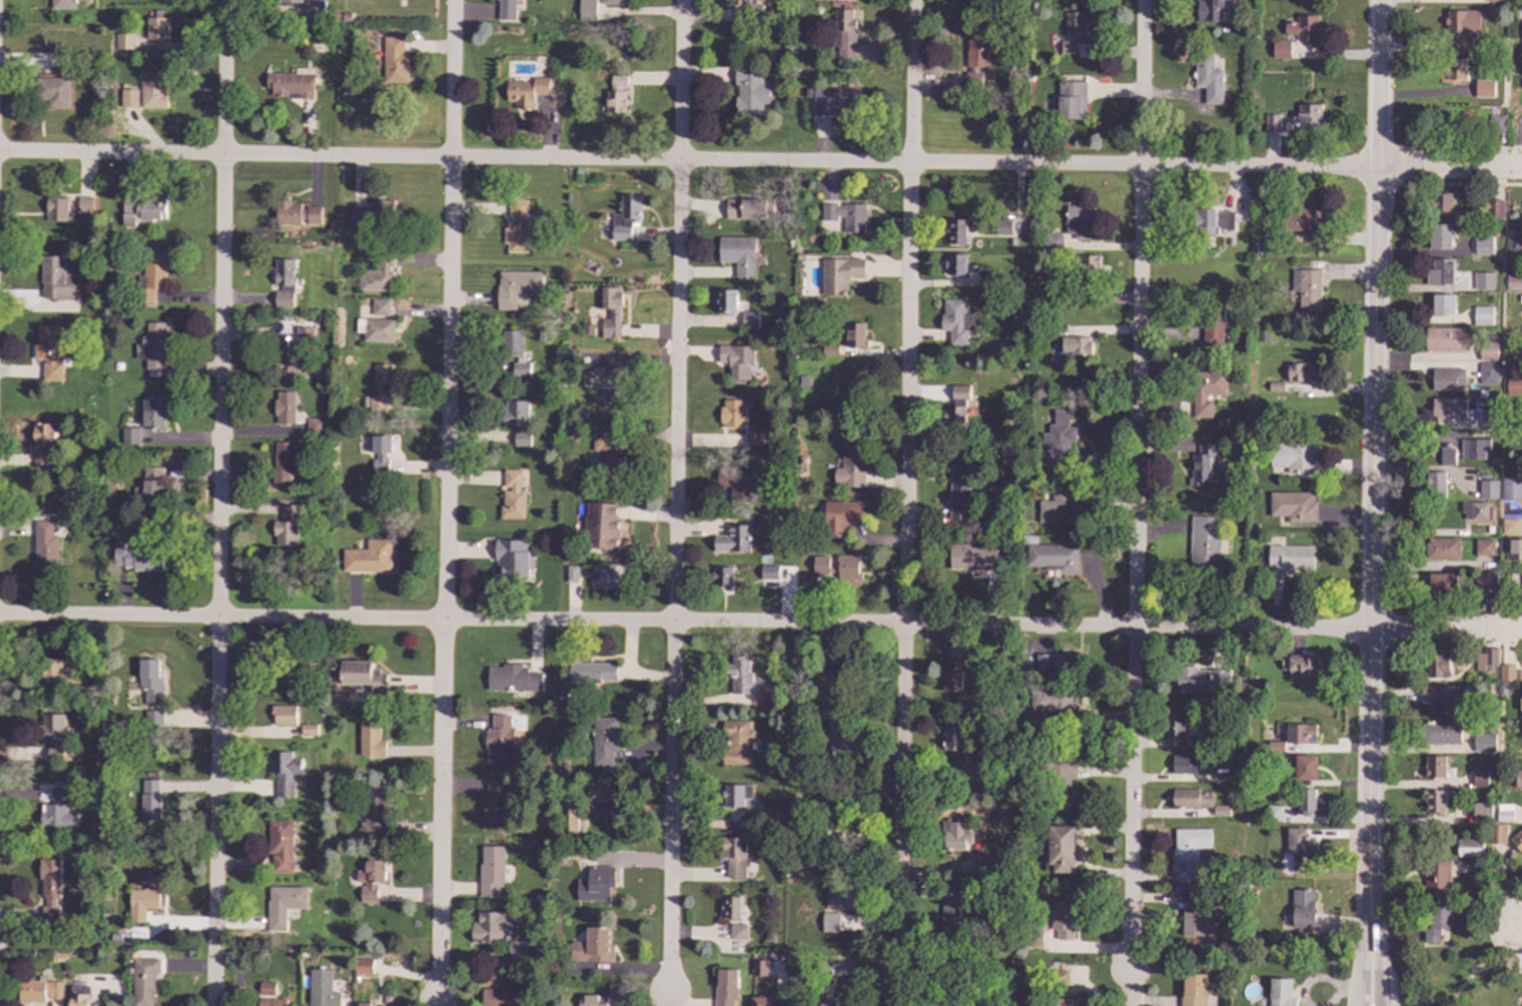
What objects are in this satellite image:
building: (1495, 0)
building: (289, 2)
building: (612, 3)
building: (63, 5)
building: (313, 8)
building: (586, 10)
building: (506, 11)
building: (1075, 26)
building: (1462, 27)
building: (1303, 28)
building: (844, 33)
building: (146, 37)
building: (1068, 47)
building: (1280, 49)
building: (976, 52)
building: (1489, 53)
building: (394, 61)
building: (1455, 69)
building: (1208, 79)
road: (1377, 83)
building: (291, 84)
building: (1521, 84)
building: (1483, 88)
building: (153, 90)
building: (528, 91)
building: (54, 92)
building: (750, 92)
building: (617, 95)
building: (128, 98)
building: (835, 100)
building: (1071, 100)
building: (1304, 118)
building: (1271, 122)
building: (1496, 123)
building: (1451, 125)
road: (688, 161)
road: (1449, 167)
building: (85, 204)
building: (1440, 204)
building: (749, 208)
building: (57, 209)
building: (1494, 210)
building: (144, 211)
building: (373, 212)
building: (296, 214)
building: (845, 214)
building: (1511, 216)
building: (625, 217)
building: (1212, 221)
building: (1080, 222)
building: (1301, 223)
building: (516, 227)
building: (1004, 227)
building: (957, 231)
building: (1508, 233)
building: (1440, 237)
building: (1052, 242)
building: (1484, 246)
building: (1514, 246)
building: (738, 255)
building: (955, 264)
building: (1089, 264)
building: (1441, 273)
building: (840, 274)
building: (152, 276)
building: (377, 276)
building: (1484, 281)
building: (1514, 282)
building: (284, 283)
building: (57, 286)
building: (516, 287)
building: (1306, 290)
building: (727, 301)
building: (1443, 305)
building: (380, 307)
building: (611, 313)
building: (1483, 316)
building: (749, 320)
building: (956, 321)
building: (1213, 326)
building: (375, 329)
building: (305, 333)
building: (855, 335)
building: (1446, 340)
building: (152, 345)
building: (1076, 346)
building: (1489, 348)
building: (48, 350)
building: (514, 351)
building: (287, 358)
building: (737, 360)
building: (163, 372)
building: (1302, 372)
building: (1488, 374)
building: (1448, 379)
building: (854, 382)
building: (606, 384)
building: (1274, 386)
building: (1514, 386)
building: (381, 389)
building: (1206, 391)
building: (1482, 394)
building: (1495, 394)
building: (956, 405)
building: (285, 407)
building: (1520, 407)
building: (1449, 409)
building: (152, 413)
building: (732, 413)
building: (1490, 419)
building: (517, 420)
building: (316, 425)
building: (1496, 435)
building: (130, 436)
building: (754, 437)
building: (1058, 440)
building: (42, 443)
building: (1473, 449)
building: (380, 454)
building: (1293, 455)
building: (1447, 457)
building: (605, 458)
building: (1507, 459)
building: (1494, 461)
building: (283, 463)
building: (1201, 464)
building: (850, 466)
road: (1371, 473)
building: (1484, 477)
building: (153, 485)
building: (736, 485)
building: (1436, 485)
road: (1136, 486)
building: (1511, 488)
building: (1488, 490)
building: (959, 492)
building: (512, 495)
road: (674, 495)
road: (446, 501)
road: (218, 503)
road: (905, 503)
building: (1489, 503)
building: (1059, 506)
building: (1293, 506)
building: (1476, 511)
building: (839, 517)
building: (603, 525)
building: (1511, 526)
building: (287, 527)
building: (734, 539)
building: (1205, 543)
building: (45, 546)
building: (1484, 548)
building: (1441, 549)
building: (1514, 550)
building: (973, 556)
building: (368, 557)
building: (1053, 557)
building: (137, 558)
building: (1288, 558)
building: (513, 559)
building: (837, 567)
building: (768, 572)
building: (572, 574)
building: (606, 575)
building: (722, 576)
building: (1507, 576)
building: (1485, 581)
building: (1442, 583)
road: (684, 622)
road: (1445, 630)
building: (1486, 658)
building: (1055, 663)
building: (1438, 666)
building: (1298, 667)
building: (284, 672)
building: (593, 672)
building: (1507, 674)
building: (57, 675)
building: (740, 675)
building: (952, 675)
building: (1519, 675)
building: (513, 678)
building: (150, 680)
building: (1502, 689)
building: (769, 693)
building: (1444, 697)
building: (1051, 701)
building: (284, 715)
building: (1521, 716)
building: (1173, 726)
building: (308, 730)
building: (1300, 733)
building: (1442, 733)
building: (54, 734)
building: (953, 737)
building: (371, 739)
building: (845, 739)
building: (604, 740)
building: (499, 742)
building: (736, 742)
building: (1485, 742)
building: (1274, 747)
building: (1504, 756)
building: (1182, 764)
building: (1435, 767)
building: (1305, 768)
building: (284, 772)
building: (972, 774)
building: (1480, 777)
building: (1518, 778)
building: (599, 792)
building: (736, 794)
building: (58, 797)
building: (1191, 798)
building: (150, 800)
building: (1435, 801)
building: (1306, 802)
building: (495, 803)
building: (374, 810)
building: (1219, 810)
building: (1272, 813)
building: (1482, 813)
building: (1505, 814)
building: (57, 816)
building: (570, 822)
building: (1497, 834)
building: (959, 836)
building: (1517, 840)
building: (281, 845)
building: (1060, 848)
building: (1469, 848)
building: (1188, 849)
building: (1299, 850)
building: (733, 856)
building: (1468, 862)
building: (1483, 869)
building: (492, 871)
building: (1437, 875)
building: (370, 877)
building: (596, 884)
building: (50, 891)
road: (1374, 892)
road: (1363, 893)
building: (842, 895)
building: (142, 903)
building: (283, 904)
building: (731, 907)
building: (1302, 909)
building: (952, 913)
building: (1193, 914)
building: (1061, 918)
building: (830, 922)
building: (1437, 923)
road: (1517, 926)
building: (489, 927)
building: (738, 931)
road: (1517, 934)
building: (593, 946)
building: (516, 949)
building: (363, 966)
road: (1480, 967)
building: (759, 968)
building: (144, 980)
building: (725, 987)
road: (1139, 988)
building: (322, 989)
building: (1193, 989)
building: (38, 990)
building: (615, 992)
building: (1280, 992)
building: (79, 995)
building: (269, 995)
building: (502, 997)
road: (668, 999)
building: (595, 1000)
building: (766, 1001)
building: (1058, 1001)
building: (364, 1004)
building: (828, 1004)
building: (966, 1004)
road: (438, 1005)

